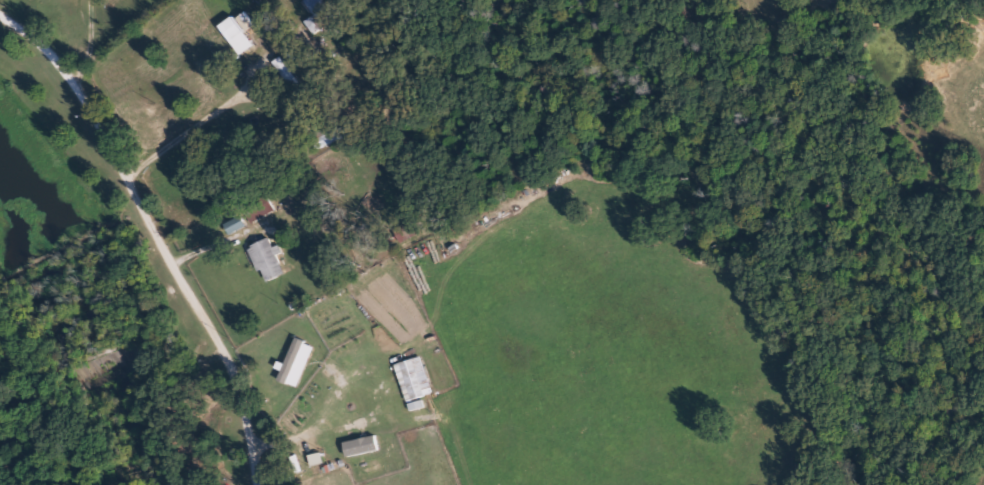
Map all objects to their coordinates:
building: (320, 20)
building: (231, 28)
road: (86, 46)
building: (285, 72)
building: (328, 134)
building: (259, 206)
road: (151, 233)
building: (267, 259)
building: (297, 360)
building: (415, 378)
building: (302, 407)
building: (291, 484)
building: (292, 484)

